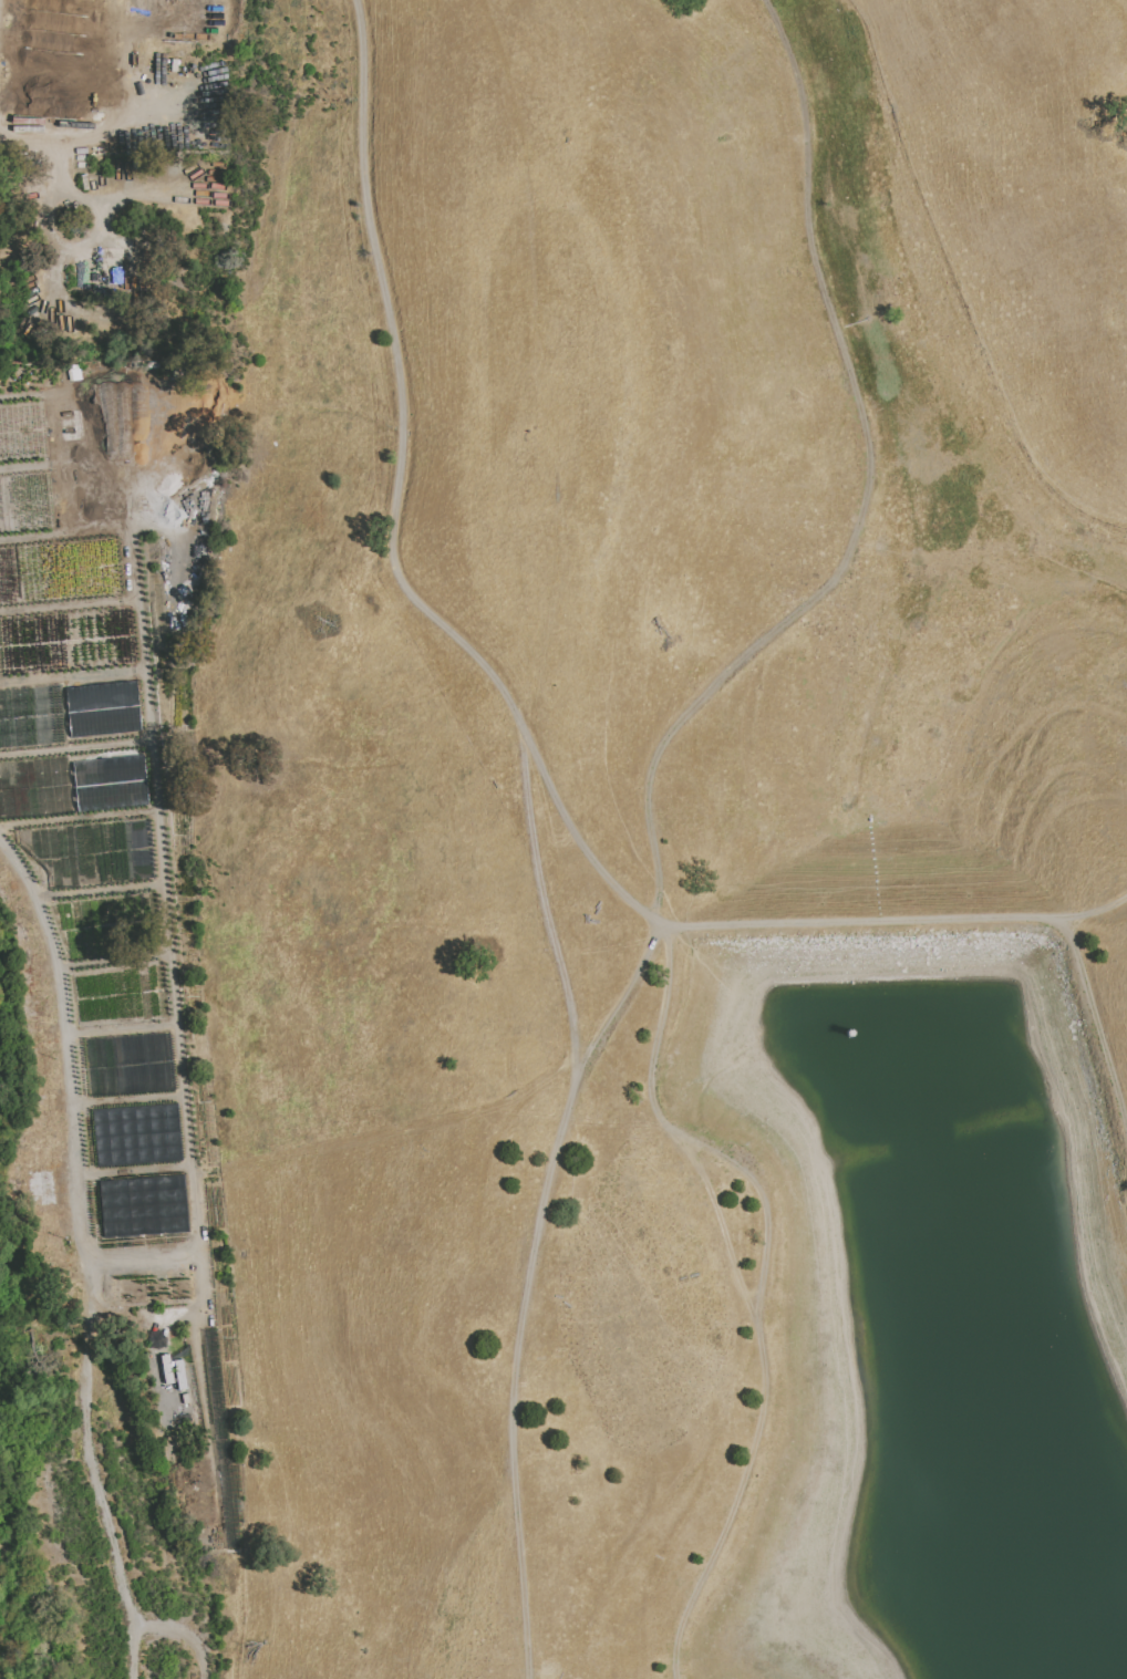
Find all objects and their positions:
road: (1, 12)
road: (121, 125)
building: (115, 367)
building: (138, 367)
building: (155, 367)
road: (524, 369)
building: (116, 374)
road: (978, 549)
road: (161, 858)
dam: (879, 892)
road: (542, 895)
road: (1095, 906)
road: (890, 924)
road: (659, 927)
crop: (111, 1040)
road: (221, 1161)
building: (38, 1192)
road: (178, 1255)
road: (763, 1282)
road: (87, 1428)
road: (519, 1434)
building: (80, 1527)
road: (184, 1635)

